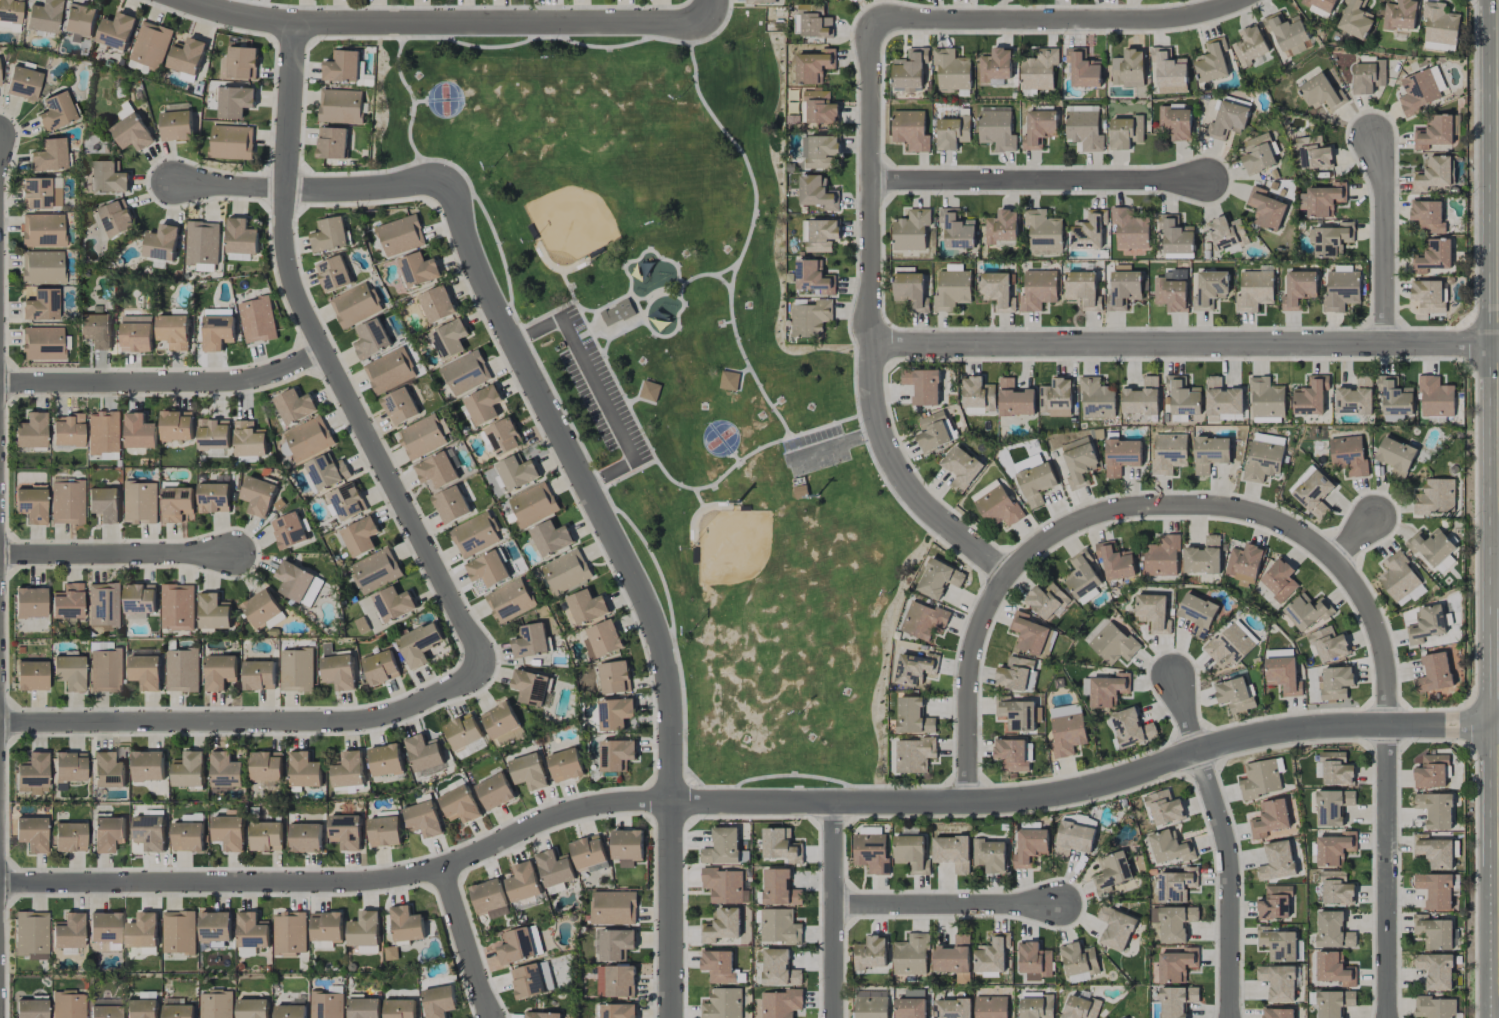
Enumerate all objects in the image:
building: (760, 1)
building: (1319, 6)
building: (10, 10)
road: (709, 11)
building: (1399, 15)
building: (43, 16)
road: (1055, 20)
building: (1355, 20)
building: (80, 21)
road: (443, 22)
building: (816, 25)
building: (1439, 27)
building: (117, 31)
building: (1287, 33)
building: (151, 44)
building: (1250, 45)
building: (187, 56)
building: (1212, 62)
building: (241, 63)
building: (814, 66)
building: (995, 66)
building: (342, 67)
building: (910, 69)
building: (1083, 69)
building: (1128, 69)
building: (952, 70)
building: (1039, 70)
building: (1169, 71)
building: (1367, 76)
building: (0, 83)
building: (23, 83)
building: (1420, 90)
building: (1321, 93)
park: (444, 100)
building: (235, 101)
road: (290, 105)
building: (340, 106)
building: (818, 108)
building: (56, 111)
building: (125, 111)
building: (1228, 119)
building: (1175, 122)
building: (177, 126)
building: (1039, 128)
building: (996, 129)
building: (910, 130)
building: (1084, 130)
building: (952, 132)
building: (1125, 132)
building: (1434, 132)
building: (132, 133)
building: (232, 142)
building: (332, 143)
building: (819, 151)
building: (1257, 154)
building: (49, 155)
building: (1315, 157)
building: (1434, 174)
building: (109, 177)
road: (1038, 179)
road: (231, 186)
building: (35, 192)
building: (817, 193)
building: (1321, 201)
building: (1266, 209)
building: (1427, 216)
building: (116, 218)
building: (1002, 229)
building: (1130, 229)
building: (42, 230)
building: (911, 230)
building: (957, 230)
building: (1089, 231)
building: (1043, 233)
building: (1227, 233)
building: (329, 235)
building: (400, 235)
building: (820, 235)
building: (241, 236)
road: (747, 237)
building: (1176, 238)
building: (1333, 240)
road: (1385, 240)
building: (161, 243)
building: (202, 243)
building: (1433, 256)
building: (42, 267)
road: (728, 268)
building: (419, 269)
building: (333, 274)
road: (706, 275)
road: (679, 276)
building: (813, 277)
building: (996, 289)
building: (1123, 289)
building: (1210, 289)
building: (1298, 289)
building: (952, 290)
building: (1038, 290)
building: (1083, 290)
building: (1171, 290)
building: (1254, 290)
building: (1341, 290)
building: (911, 291)
building: (1430, 295)
building: (437, 304)
building: (41, 305)
building: (355, 305)
road: (635, 307)
building: (617, 313)
building: (810, 318)
building: (257, 320)
road: (872, 324)
building: (96, 330)
building: (173, 331)
building: (217, 332)
building: (136, 334)
building: (449, 338)
building: (371, 339)
building: (42, 343)
road: (1186, 344)
park: (686, 364)
building: (389, 370)
building: (465, 373)
building: (728, 381)
road: (165, 382)
building: (922, 385)
parking lot: (601, 387)
road: (597, 389)
building: (649, 391)
building: (1310, 396)
building: (1394, 396)
building: (1056, 397)
building: (1096, 398)
building: (1141, 398)
building: (1266, 398)
building: (1355, 398)
building: (1436, 398)
building: (1015, 399)
building: (1221, 399)
building: (1183, 400)
building: (483, 405)
building: (294, 406)
building: (400, 406)
building: (177, 426)
building: (67, 429)
building: (31, 430)
building: (140, 431)
road: (366, 431)
building: (934, 431)
building: (103, 432)
building: (213, 434)
building: (423, 436)
building: (503, 436)
park: (720, 438)
building: (249, 439)
building: (307, 439)
road: (835, 444)
parking lot: (815, 451)
building: (1169, 452)
building: (1210, 453)
building: (1348, 455)
building: (1121, 456)
building: (1396, 456)
building: (1264, 457)
building: (1078, 461)
road: (660, 468)
building: (961, 468)
building: (437, 470)
building: (327, 472)
building: (516, 472)
building: (1036, 483)
building: (1314, 494)
building: (258, 496)
building: (214, 497)
building: (1436, 497)
road: (698, 499)
building: (345, 501)
building: (67, 502)
building: (140, 503)
building: (177, 503)
building: (104, 504)
building: (533, 504)
building: (31, 505)
building: (451, 505)
road: (1139, 505)
road: (598, 507)
building: (998, 507)
building: (289, 530)
building: (475, 535)
building: (360, 536)
building: (551, 538)
road: (1357, 543)
building: (1431, 546)
road: (115, 555)
building: (1162, 556)
building: (1203, 557)
building: (1115, 561)
building: (1244, 563)
building: (488, 569)
building: (377, 570)
building: (566, 571)
building: (1082, 575)
building: (1398, 576)
building: (938, 578)
building: (1279, 580)
building: (299, 583)
building: (510, 600)
building: (1046, 600)
building: (67, 601)
building: (140, 601)
building: (30, 602)
building: (104, 604)
building: (394, 604)
building: (177, 607)
building: (587, 607)
building: (263, 610)
building: (1151, 610)
building: (214, 611)
building: (1307, 611)
building: (1197, 614)
building: (922, 620)
building: (1426, 624)
building: (1032, 635)
building: (602, 639)
building: (531, 642)
building: (1110, 642)
building: (419, 644)
building: (1231, 644)
building: (1328, 644)
building: (327, 649)
building: (105, 667)
building: (381, 668)
building: (913, 669)
building: (182, 670)
building: (296, 670)
building: (219, 671)
building: (69, 672)
building: (145, 672)
building: (339, 672)
building: (1434, 673)
building: (31, 675)
building: (259, 675)
building: (1017, 675)
building: (1283, 675)
building: (614, 677)
building: (1335, 682)
building: (531, 687)
building: (1106, 689)
building: (1234, 695)
building: (1064, 710)
building: (615, 714)
building: (1017, 715)
road: (1187, 715)
building: (913, 716)
building: (500, 720)
road: (248, 721)
building: (1131, 728)
building: (463, 732)
building: (1067, 734)
building: (423, 752)
building: (616, 754)
building: (1012, 754)
building: (914, 755)
building: (385, 760)
building: (565, 765)
building: (148, 766)
building: (266, 766)
building: (68, 768)
building: (189, 769)
building: (1336, 769)
building: (108, 770)
building: (304, 770)
building: (348, 770)
building: (225, 771)
building: (528, 771)
building: (1432, 771)
building: (33, 773)
building: (1261, 778)
road: (1089, 787)
building: (495, 791)
building: (459, 805)
building: (1333, 806)
building: (1163, 807)
building: (1437, 810)
building: (423, 818)
building: (1269, 818)
building: (1086, 821)
building: (346, 831)
building: (384, 831)
building: (149, 832)
building: (229, 832)
building: (32, 833)
building: (108, 833)
building: (70, 836)
building: (266, 836)
building: (188, 837)
building: (306, 838)
building: (1073, 839)
building: (781, 845)
building: (1169, 846)
building: (627, 847)
building: (722, 847)
building: (1030, 847)
building: (1335, 849)
building: (1433, 851)
building: (588, 852)
building: (871, 852)
building: (953, 852)
building: (912, 853)
building: (989, 855)
building: (1277, 862)
building: (554, 868)
road: (1387, 871)
road: (343, 881)
building: (523, 882)
road: (1231, 882)
building: (1176, 884)
building: (724, 885)
building: (779, 888)
building: (1435, 890)
building: (489, 899)
road: (946, 903)
building: (1274, 903)
building: (613, 907)
road: (833, 910)
building: (1176, 923)
building: (406, 924)
building: (721, 925)
building: (326, 926)
building: (779, 926)
building: (104, 927)
building: (1115, 928)
building: (214, 929)
building: (252, 930)
building: (142, 931)
building: (1333, 931)
building: (179, 932)
building: (364, 932)
building: (1434, 932)
building: (68, 933)
building: (31, 934)
building: (289, 934)
building: (535, 939)
road: (466, 943)
building: (1277, 943)
building: (322, 944)
building: (616, 944)
building: (515, 946)
building: (870, 953)
building: (911, 954)
building: (991, 955)
building: (954, 959)
building: (1078, 959)
building: (1034, 961)
building: (1177, 964)
building: (779, 969)
building: (1334, 969)
building: (1436, 970)
building: (529, 979)
building: (616, 981)
building: (1278, 982)
building: (439, 1001)
building: (1176, 1001)
building: (780, 1003)
building: (1334, 1003)
building: (67, 1004)
building: (723, 1004)
building: (871, 1004)
building: (216, 1005)
building: (326, 1005)
building: (991, 1007)
building: (1036, 1007)
building: (1080, 1007)
building: (1435, 1007)
building: (31, 1008)
building: (104, 1008)
building: (141, 1008)
building: (252, 1008)
building: (363, 1008)
building: (399, 1008)
building: (910, 1008)
building: (952, 1008)
building: (178, 1011)
building: (290, 1011)
building: (618, 1011)
building: (1278, 1013)
building: (542, 1015)

